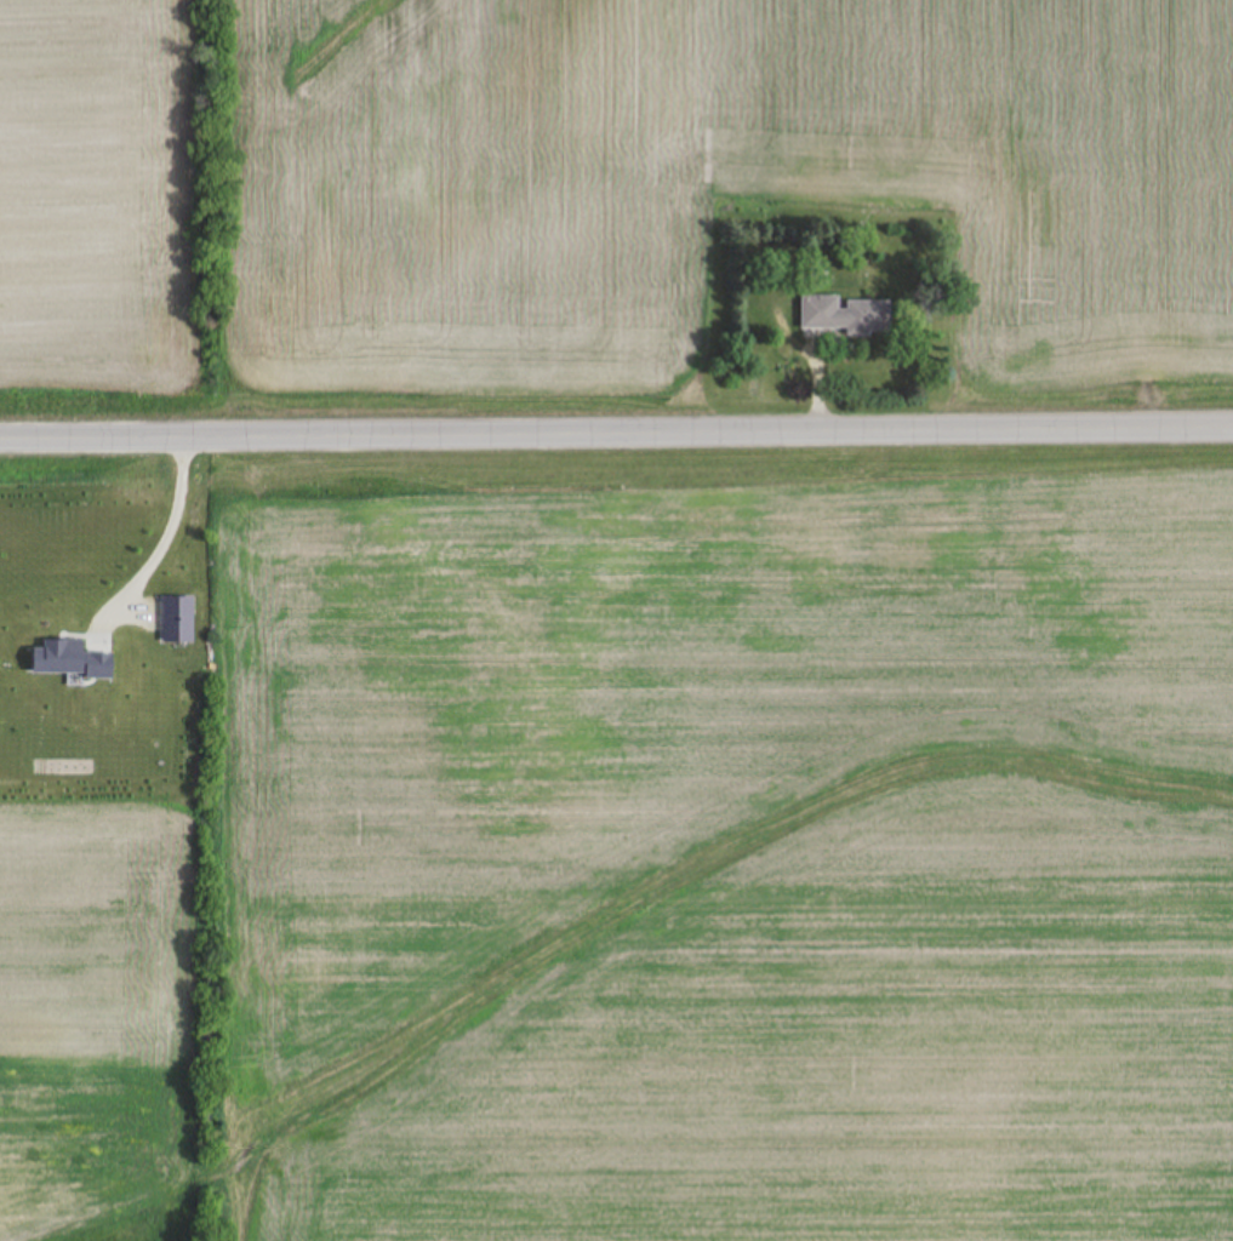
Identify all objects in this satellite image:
building: (846, 315)
road: (616, 433)

